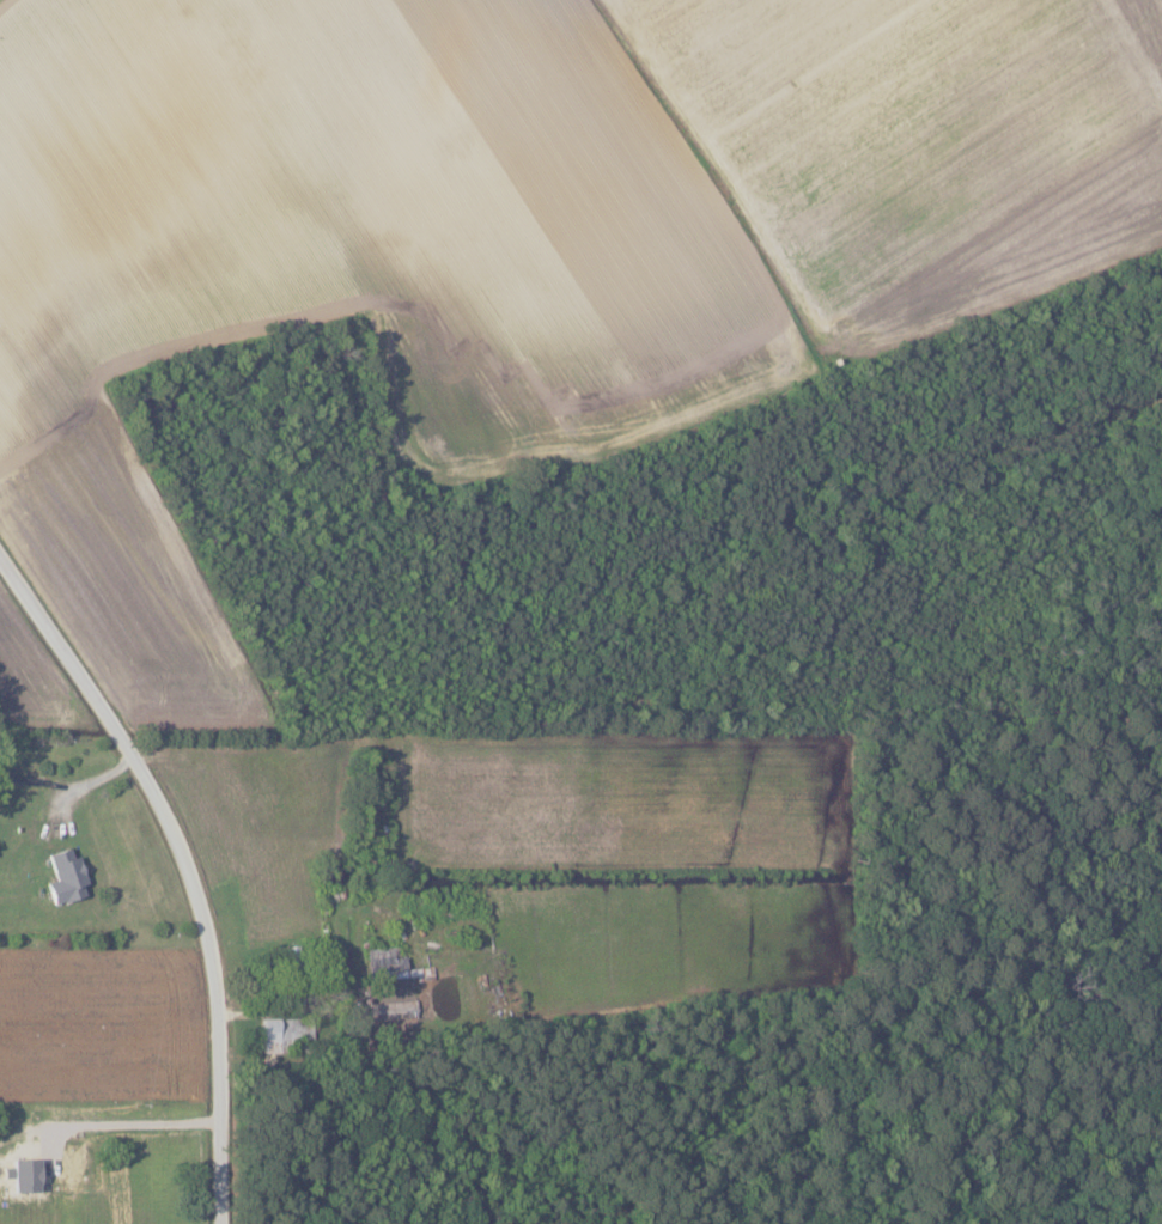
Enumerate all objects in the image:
road: (191, 859)
building: (63, 877)
building: (384, 963)
building: (284, 1033)
road: (109, 1126)
building: (2, 1161)
building: (72, 1171)

